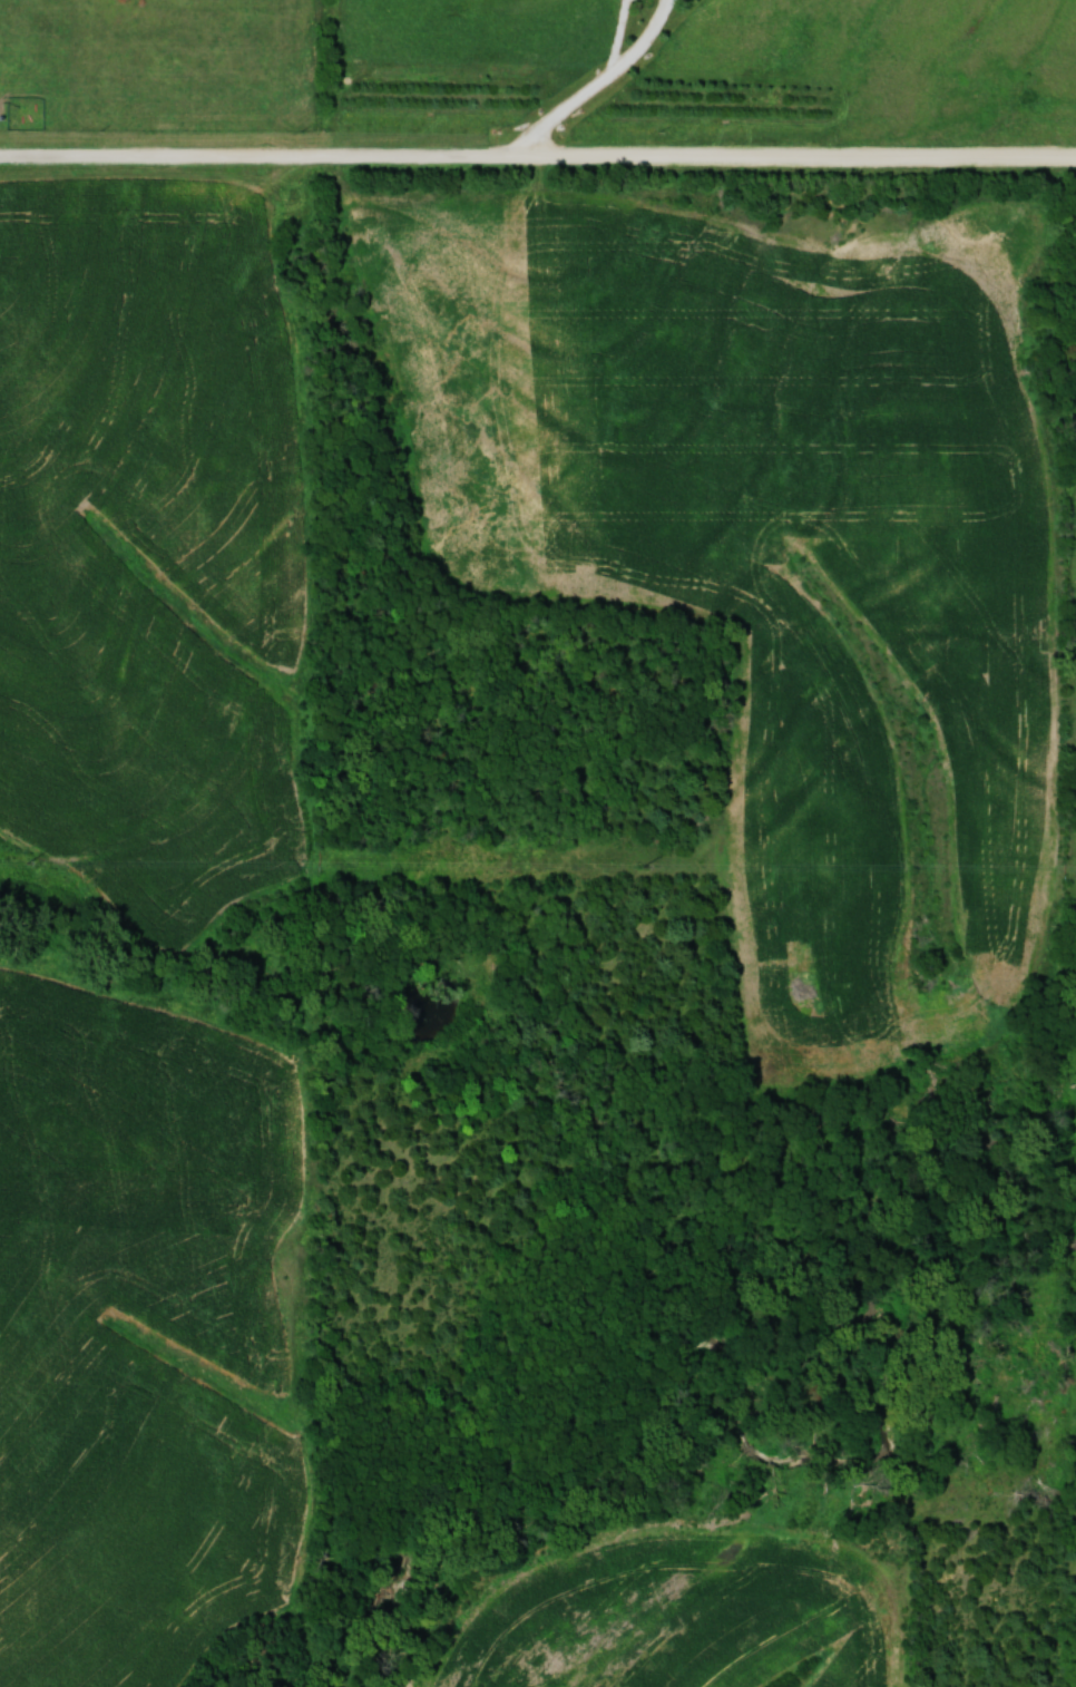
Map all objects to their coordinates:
road: (538, 150)

